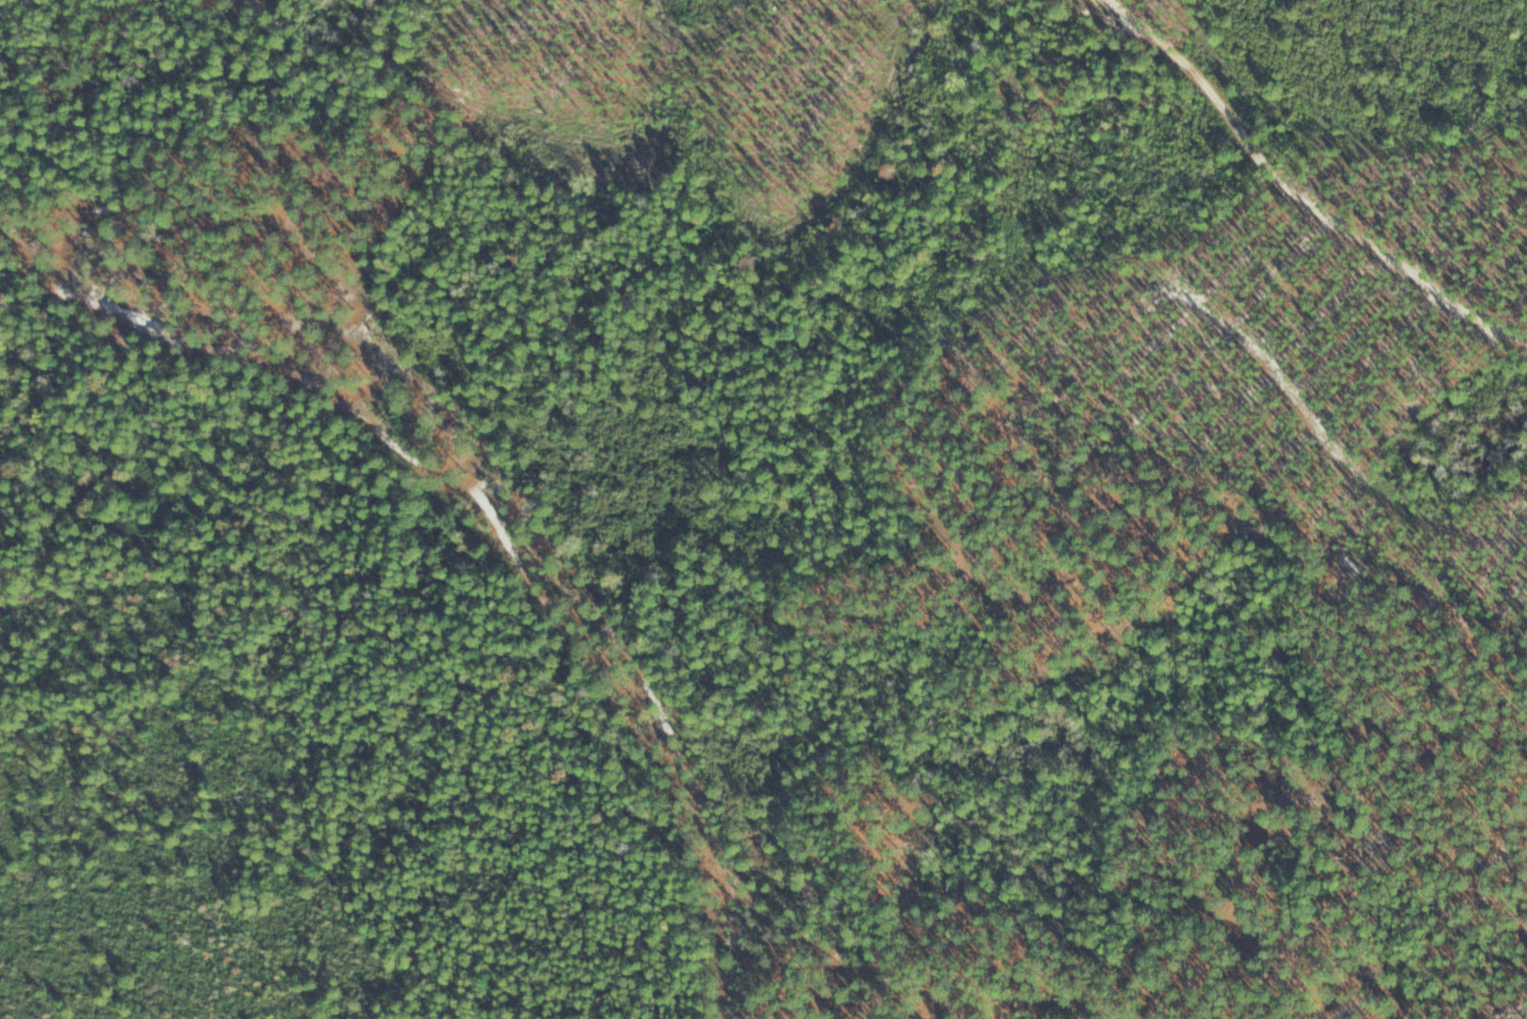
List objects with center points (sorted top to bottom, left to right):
road: (1337, 179)
road: (568, 568)
road: (1457, 733)

